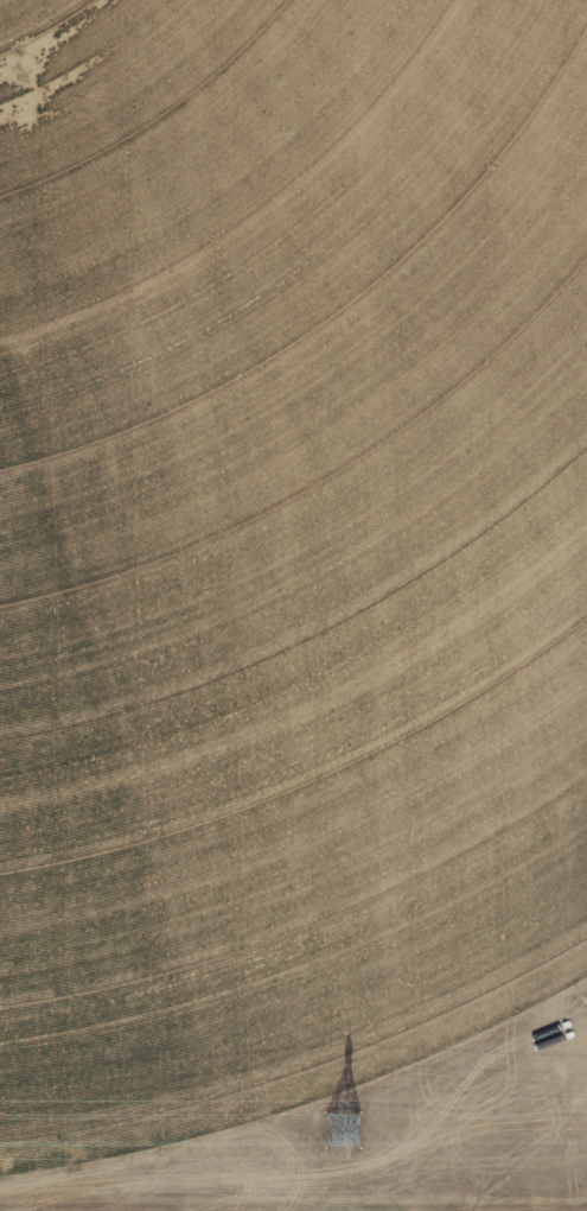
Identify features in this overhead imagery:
power tower: (345, 1130)

